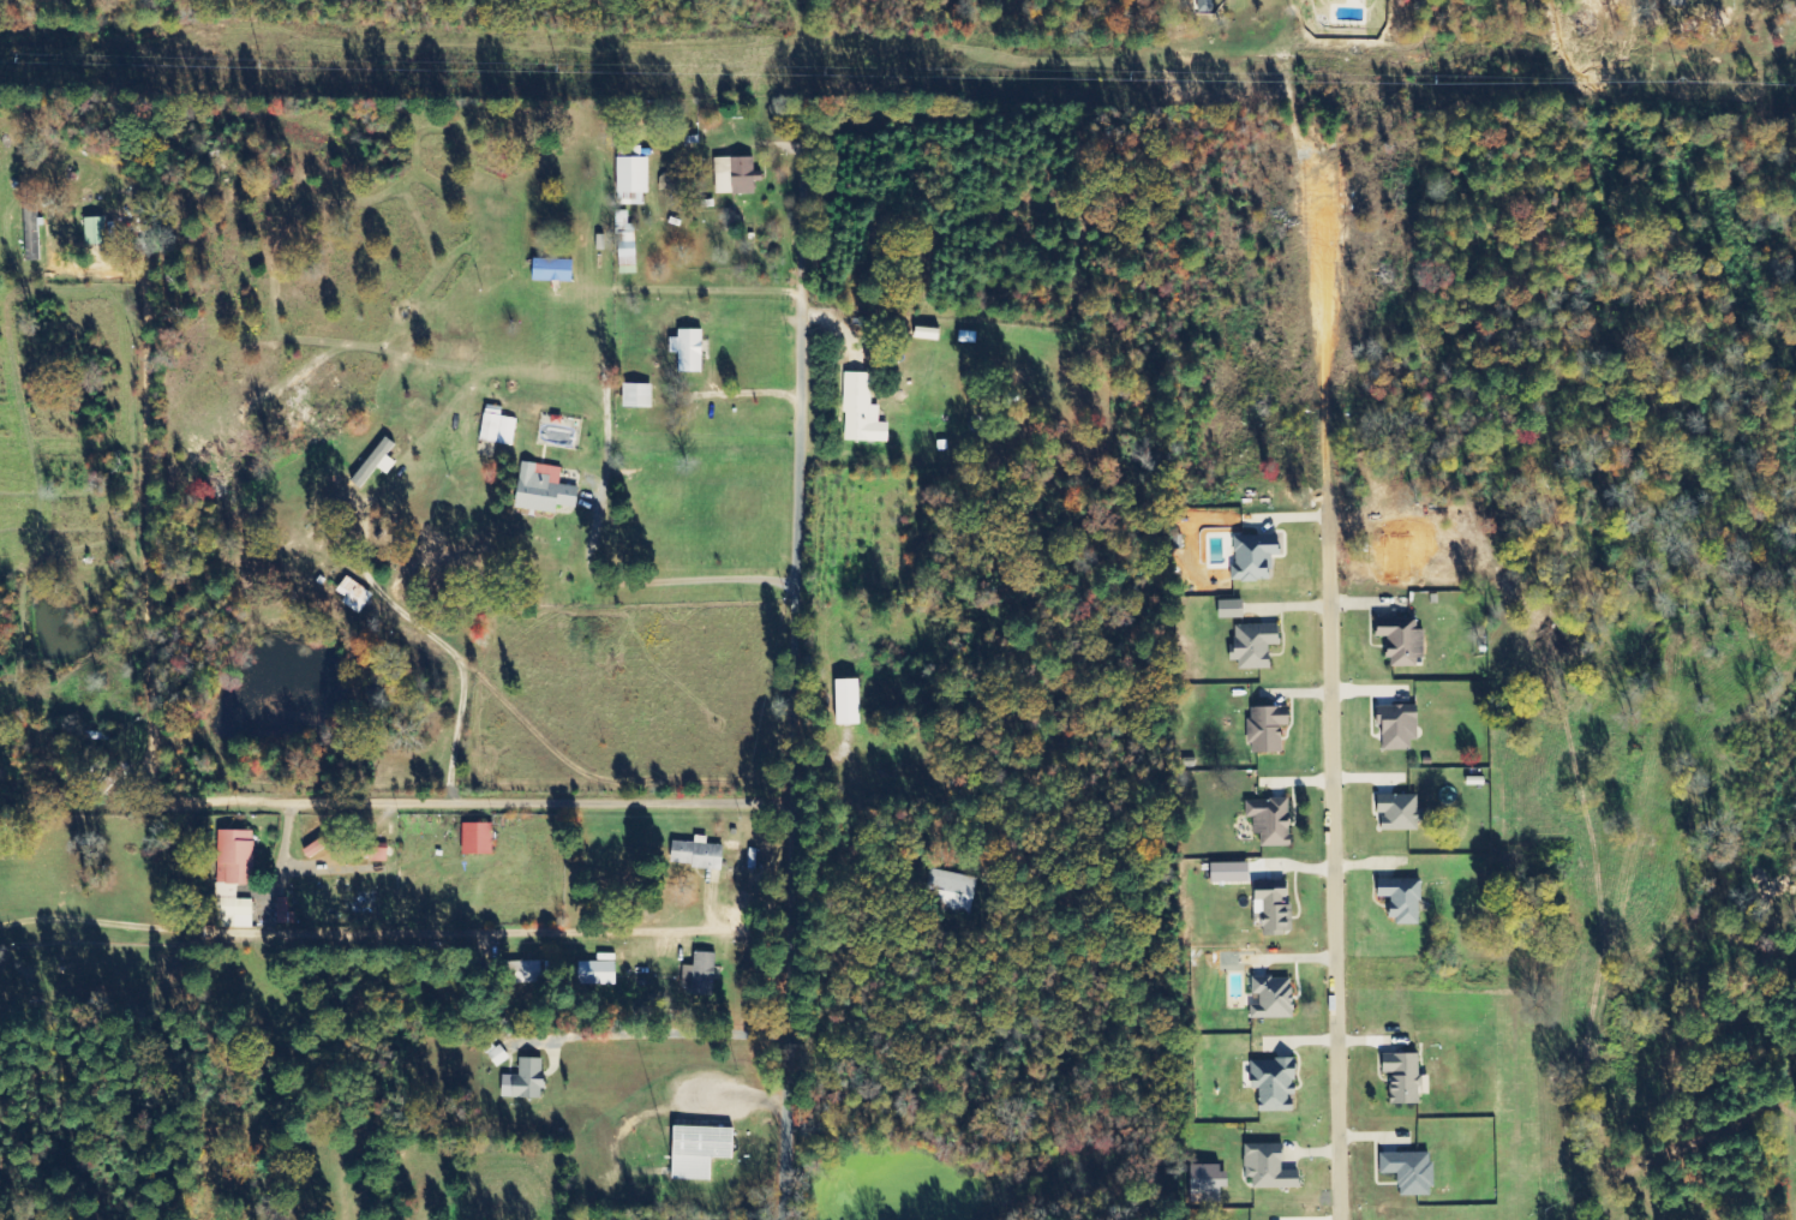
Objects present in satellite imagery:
building: (1678, 2)
building: (734, 175)
building: (631, 179)
building: (670, 181)
building: (95, 229)
building: (625, 245)
building: (928, 333)
building: (688, 349)
building: (637, 395)
building: (862, 411)
building: (497, 426)
building: (373, 462)
building: (544, 489)
building: (1255, 556)
building: (355, 594)
building: (1231, 609)
building: (1402, 639)
building: (1255, 645)
road: (803, 660)
building: (850, 701)
building: (1397, 726)
building: (1268, 728)
road: (583, 770)
road: (497, 802)
building: (1400, 812)
building: (1271, 821)
building: (478, 838)
building: (325, 842)
building: (698, 854)
building: (235, 878)
road: (1351, 885)
building: (952, 889)
building: (1402, 898)
road: (395, 907)
building: (1274, 907)
building: (283, 909)
road: (420, 940)
road: (309, 967)
building: (599, 970)
building: (528, 971)
building: (701, 974)
building: (1273, 998)
building: (1406, 1078)
building: (525, 1081)
building: (1275, 1083)
building: (701, 1150)
building: (1269, 1167)
building: (1409, 1171)
building: (1204, 1184)

